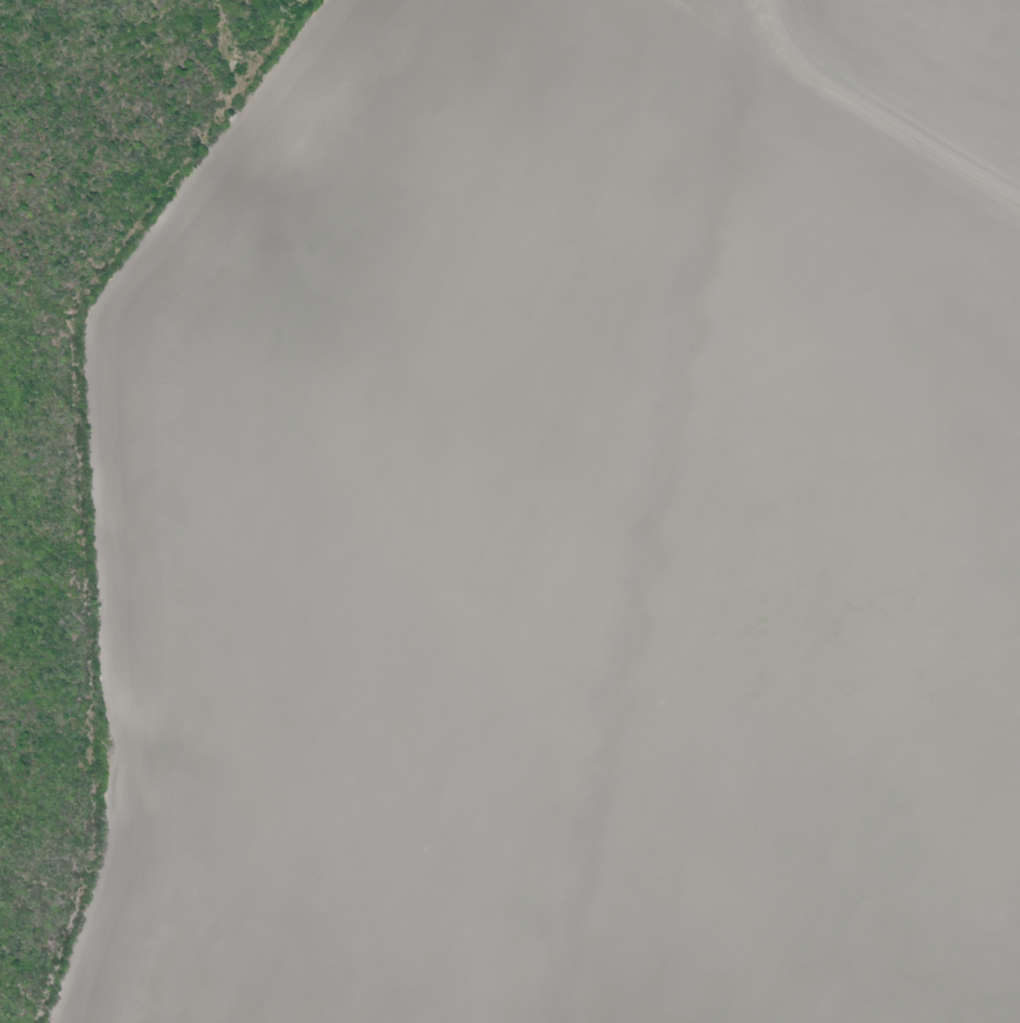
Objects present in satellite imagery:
road: (761, 12)
road: (885, 118)

